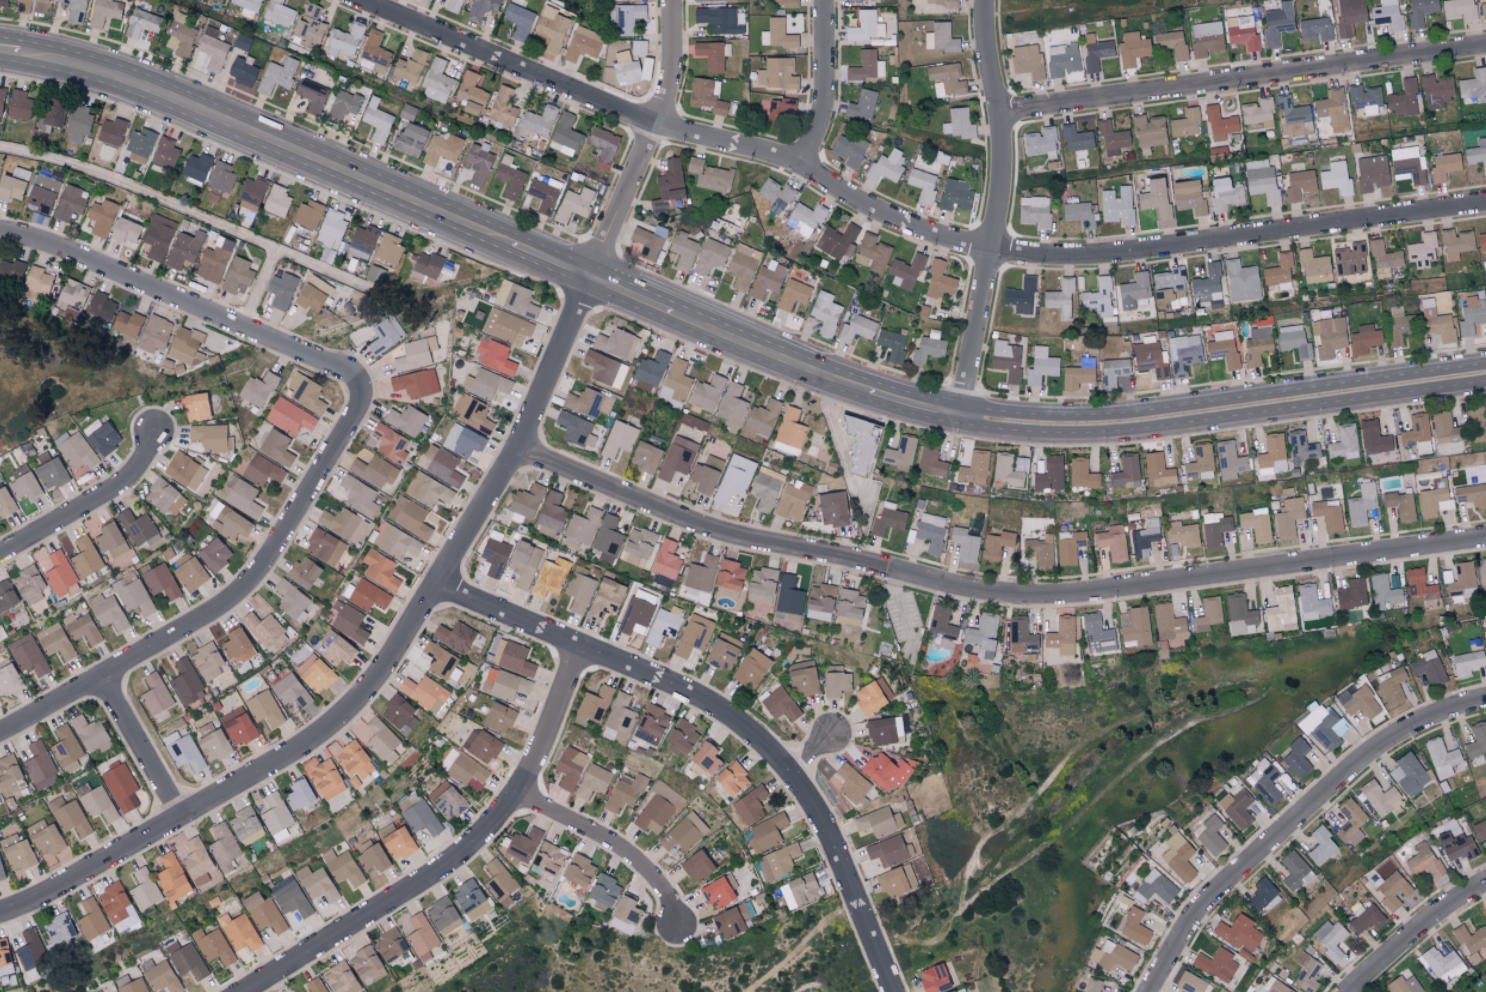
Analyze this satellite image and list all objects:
building: (42, 0)
building: (219, 0)
building: (711, 0)
building: (3, 2)
building: (942, 2)
building: (783, 3)
building: (452, 5)
building: (23, 6)
building: (247, 7)
building: (481, 8)
building: (1458, 9)
building: (74, 10)
building: (1483, 10)
building: (1420, 11)
building: (104, 12)
building: (279, 13)
building: (1349, 15)
building: (1387, 15)
building: (628, 17)
building: (518, 19)
building: (718, 20)
building: (141, 23)
building: (1277, 23)
building: (308, 27)
building: (551, 28)
building: (1315, 29)
building: (1242, 32)
building: (180, 33)
building: (777, 34)
building: (941, 38)
building: (1207, 38)
building: (344, 40)
building: (1171, 43)
building: (639, 47)
building: (212, 48)
building: (1133, 48)
building: (1095, 51)
building: (374, 54)
building: (712, 54)
building: (1061, 59)
building: (1026, 61)
building: (866, 66)
building: (409, 67)
building: (628, 68)
building: (242, 71)
building: (776, 74)
building: (277, 75)
building: (945, 79)
road: (1243, 79)
building: (437, 82)
road: (826, 85)
building: (1473, 86)
building: (1435, 91)
building: (471, 94)
building: (1, 95)
building: (311, 95)
building: (706, 95)
building: (1402, 98)
building: (1365, 100)
building: (17, 104)
building: (861, 105)
building: (342, 106)
building: (502, 107)
building: (781, 108)
building: (1257, 111)
building: (1292, 111)
building: (1331, 111)
building: (52, 113)
building: (376, 120)
building: (539, 120)
building: (77, 122)
building: (957, 123)
building: (1185, 124)
building: (1219, 124)
building: (111, 131)
building: (1148, 131)
building: (565, 136)
road: (650, 138)
building: (409, 139)
building: (1076, 139)
building: (1112, 139)
building: (140, 144)
building: (603, 147)
building: (441, 148)
building: (848, 149)
building: (164, 153)
building: (1476, 153)
building: (1402, 160)
building: (478, 162)
building: (694, 165)
building: (886, 166)
building: (1444, 166)
building: (195, 167)
building: (1371, 173)
building: (221, 176)
building: (509, 177)
building: (1336, 178)
building: (714, 179)
building: (1261, 180)
building: (13, 184)
building: (1298, 184)
building: (922, 185)
building: (669, 188)
building: (42, 193)
building: (250, 193)
building: (954, 194)
building: (775, 195)
building: (1225, 195)
building: (1155, 197)
building: (1188, 197)
building: (212, 198)
building: (275, 201)
building: (70, 203)
building: (573, 204)
building: (1117, 205)
road: (1000, 207)
road: (189, 210)
building: (1034, 211)
building: (1078, 212)
building: (307, 215)
building: (101, 217)
building: (806, 218)
road: (901, 222)
building: (330, 229)
building: (125, 231)
building: (158, 237)
building: (837, 241)
building: (361, 242)
building: (1482, 242)
building: (646, 243)
building: (1455, 244)
building: (183, 249)
building: (388, 249)
building: (1421, 250)
building: (682, 252)
building: (871, 253)
building: (710, 256)
building: (1349, 259)
building: (1384, 259)
building: (213, 260)
building: (426, 264)
building: (742, 266)
building: (1313, 266)
building: (10, 271)
building: (905, 271)
building: (1278, 272)
building: (375, 274)
building: (237, 276)
building: (36, 280)
building: (766, 280)
building: (938, 280)
building: (1241, 281)
building: (1207, 285)
road: (258, 287)
building: (1170, 287)
building: (280, 291)
building: (1133, 291)
building: (72, 293)
building: (312, 293)
building: (792, 294)
building: (1020, 296)
building: (1098, 297)
building: (1060, 298)
building: (515, 299)
building: (99, 306)
road: (202, 308)
building: (824, 313)
building: (1472, 315)
building: (1436, 322)
building: (126, 323)
road: (727, 323)
building: (1397, 326)
building: (856, 329)
building: (154, 334)
building: (385, 335)
building: (1328, 336)
building: (1364, 339)
building: (1294, 341)
building: (183, 344)
building: (616, 344)
building: (891, 344)
building: (1257, 345)
building: (928, 348)
building: (1223, 349)
building: (415, 354)
building: (1184, 354)
building: (495, 356)
building: (1149, 359)
building: (1006, 360)
building: (1041, 366)
building: (605, 369)
building: (1114, 371)
building: (649, 372)
building: (1078, 374)
building: (415, 383)
building: (486, 383)
building: (675, 383)
building: (257, 389)
building: (706, 393)
building: (588, 402)
building: (733, 406)
building: (194, 407)
building: (474, 414)
building: (289, 417)
building: (762, 417)
building: (405, 420)
building: (575, 429)
building: (1445, 429)
building: (789, 432)
building: (1478, 432)
building: (1416, 434)
building: (209, 436)
building: (102, 437)
building: (1373, 438)
building: (618, 439)
building: (463, 440)
road: (838, 440)
building: (1343, 442)
building: (390, 444)
building: (857, 446)
building: (276, 447)
building: (1301, 448)
building: (77, 451)
building: (900, 453)
building: (1272, 455)
building: (645, 457)
building: (677, 458)
building: (1229, 460)
building: (930, 461)
building: (1199, 463)
building: (444, 467)
building: (973, 469)
building: (184, 470)
building: (262, 470)
building: (1010, 470)
building: (1158, 470)
building: (49, 471)
building: (373, 471)
building: (1125, 472)
building: (1082, 474)
building: (705, 475)
building: (1049, 475)
building: (734, 478)
building: (23, 483)
building: (766, 488)
building: (427, 490)
building: (1286, 493)
building: (1470, 493)
building: (359, 496)
building: (163, 497)
building: (243, 498)
building: (1434, 499)
road: (89, 500)
building: (526, 501)
building: (792, 501)
building: (5, 502)
building: (1361, 504)
building: (1400, 505)
building: (832, 509)
building: (550, 515)
building: (1327, 515)
building: (410, 517)
building: (1288, 517)
building: (887, 520)
building: (229, 522)
building: (343, 524)
building: (1255, 524)
building: (138, 528)
building: (580, 529)
building: (1215, 529)
building: (930, 532)
building: (1182, 532)
building: (1144, 538)
building: (607, 539)
building: (109, 540)
building: (396, 542)
building: (1112, 542)
building: (964, 544)
building: (996, 545)
building: (1069, 546)
building: (324, 547)
building: (637, 547)
building: (494, 549)
building: (1040, 550)
building: (214, 554)
building: (85, 556)
building: (666, 560)
building: (523, 564)
building: (380, 570)
building: (56, 571)
building: (188, 571)
building: (303, 572)
building: (701, 573)
building: (1482, 573)
building: (550, 578)
building: (728, 578)
building: (161, 581)
building: (1462, 583)
building: (28, 584)
building: (760, 585)
building: (1419, 585)
road: (997, 589)
building: (579, 590)
building: (1384, 592)
building: (132, 594)
building: (6, 595)
building: (367, 595)
building: (1351, 595)
building: (605, 598)
building: (788, 598)
building: (291, 600)
building: (819, 601)
building: (1313, 601)
building: (849, 603)
road: (903, 609)
building: (1280, 610)
building: (107, 611)
building: (638, 612)
building: (1208, 614)
building: (1239, 615)
road: (223, 618)
building: (349, 623)
building: (941, 623)
building: (1168, 623)
building: (663, 625)
building: (81, 626)
building: (1135, 627)
building: (265, 630)
building: (1099, 631)
building: (1021, 634)
building: (454, 635)
building: (694, 635)
building: (1061, 636)
building: (983, 639)
building: (55, 641)
building: (237, 645)
building: (337, 648)
building: (722, 651)
building: (28, 655)
building: (512, 656)
building: (442, 662)
building: (1466, 663)
building: (210, 664)
building: (1428, 667)
building: (750, 668)
road: (379, 669)
building: (315, 673)
building: (804, 678)
building: (8, 679)
building: (187, 681)
building: (835, 681)
building: (504, 684)
building: (1391, 685)
building: (289, 690)
building: (424, 692)
building: (155, 693)
building: (871, 696)
road: (1210, 696)
building: (594, 703)
building: (1360, 703)
building: (780, 704)
building: (264, 708)
building: (399, 714)
building: (618, 716)
building: (497, 717)
building: (650, 724)
road: (728, 724)
building: (237, 726)
building: (1323, 726)
building: (884, 730)
building: (89, 732)
building: (680, 736)
building: (380, 738)
building: (1477, 739)
building: (481, 745)
building: (213, 746)
building: (66, 748)
road: (146, 752)
building: (185, 752)
road: (812, 755)
building: (1297, 757)
building: (351, 758)
building: (1441, 758)
building: (704, 759)
building: (39, 766)
building: (462, 767)
building: (569, 767)
building: (885, 771)
building: (1409, 774)
building: (9, 776)
building: (732, 779)
building: (326, 780)
building: (1264, 780)
building: (592, 781)
building: (851, 782)
building: (121, 787)
building: (625, 791)
building: (298, 793)
building: (1380, 798)
building: (447, 799)
building: (98, 803)
building: (750, 804)
building: (657, 807)
building: (1238, 809)
building: (275, 813)
building: (69, 816)
building: (421, 818)
building: (878, 821)
building: (243, 822)
road: (1298, 822)
building: (1350, 822)
building: (1480, 829)
building: (683, 832)
building: (765, 833)
building: (280, 834)
building: (1209, 835)
building: (45, 838)
building: (396, 840)
building: (521, 844)
building: (1457, 845)
building: (223, 846)
building: (1321, 846)
road: (605, 847)
building: (886, 851)
building: (17, 852)
building: (370, 857)
building: (1178, 857)
road: (453, 858)
building: (546, 859)
building: (1423, 860)
building: (197, 861)
building: (777, 861)
building: (697, 865)
building: (341, 866)
building: (578, 869)
building: (1295, 871)
building: (1, 873)
building: (172, 878)
building: (498, 880)
building: (896, 880)
building: (316, 883)
building: (1154, 887)
building: (145, 888)
building: (603, 890)
building: (799, 890)
building: (1393, 890)
building: (716, 892)
building: (1263, 895)
building: (291, 896)
building: (469, 900)
building: (118, 907)
building: (626, 909)
building: (262, 912)
building: (440, 912)
building: (92, 918)
building: (1365, 918)
building: (731, 919)
building: (1134, 926)
building: (59, 928)
building: (239, 931)
building: (1238, 932)
road: (1416, 933)
building: (420, 934)
building: (1332, 941)
building: (1470, 941)
building: (389, 944)
building: (213, 945)
road: (802, 945)
building: (4, 953)
building: (31, 954)
building: (1112, 956)
building: (186, 959)
building: (363, 961)
building: (1215, 964)
building: (1443, 964)
building: (1306, 972)
building: (162, 977)
building: (933, 978)
building: (340, 979)
building: (1190, 982)
building: (130, 984)
building: (314, 985)
building: (1091, 985)
building: (1403, 985)
building: (1107, 987)
building: (1278, 987)
building: (958, 990)
building: (98, 991)
building: (1485, 991)

